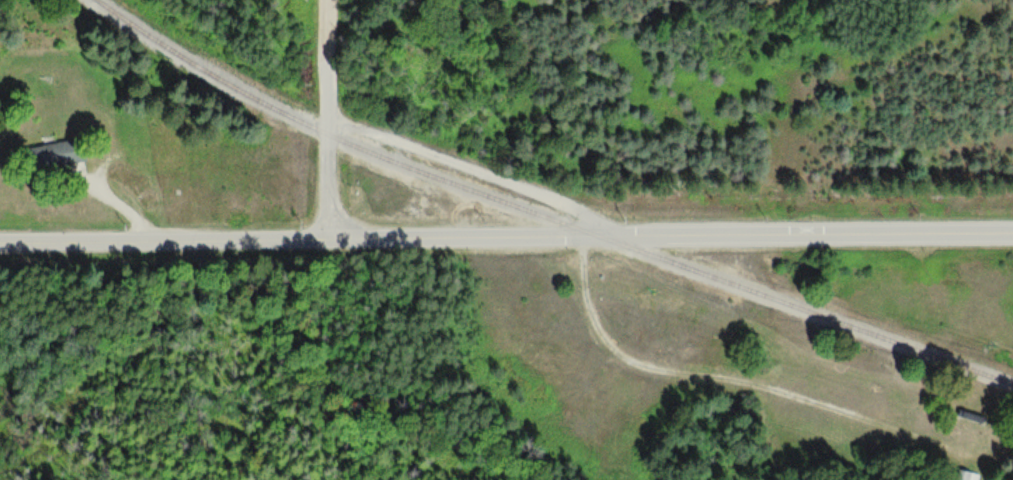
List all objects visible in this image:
road: (327, 119)
building: (55, 153)
railway: (543, 215)
road: (672, 232)
road: (166, 240)

